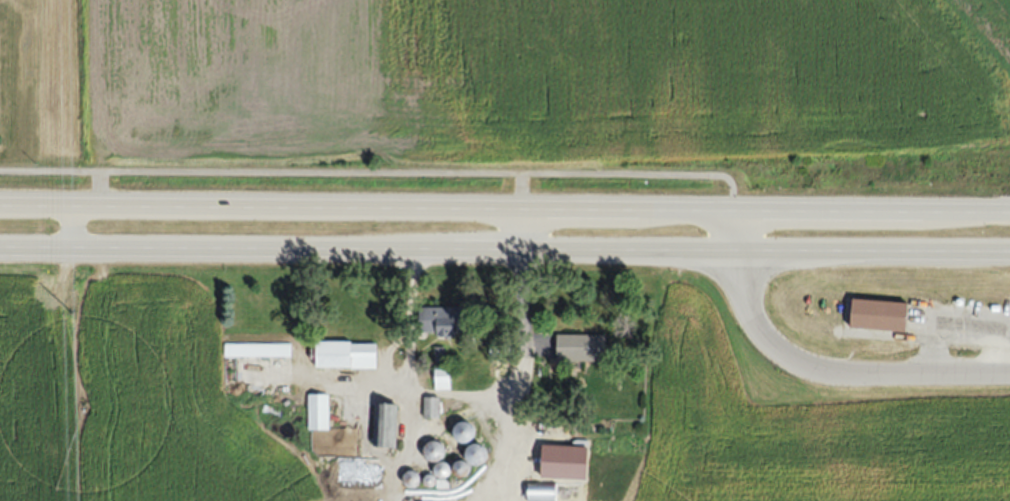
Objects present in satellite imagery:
crop: (541, 78)
road: (381, 170)
road: (504, 204)
road: (92, 250)
road: (596, 254)
building: (879, 315)
building: (441, 321)
building: (580, 347)
building: (257, 350)
building: (346, 355)
road: (813, 371)
building: (318, 413)
building: (384, 426)
building: (462, 434)
building: (475, 455)
building: (361, 484)
building: (541, 493)

